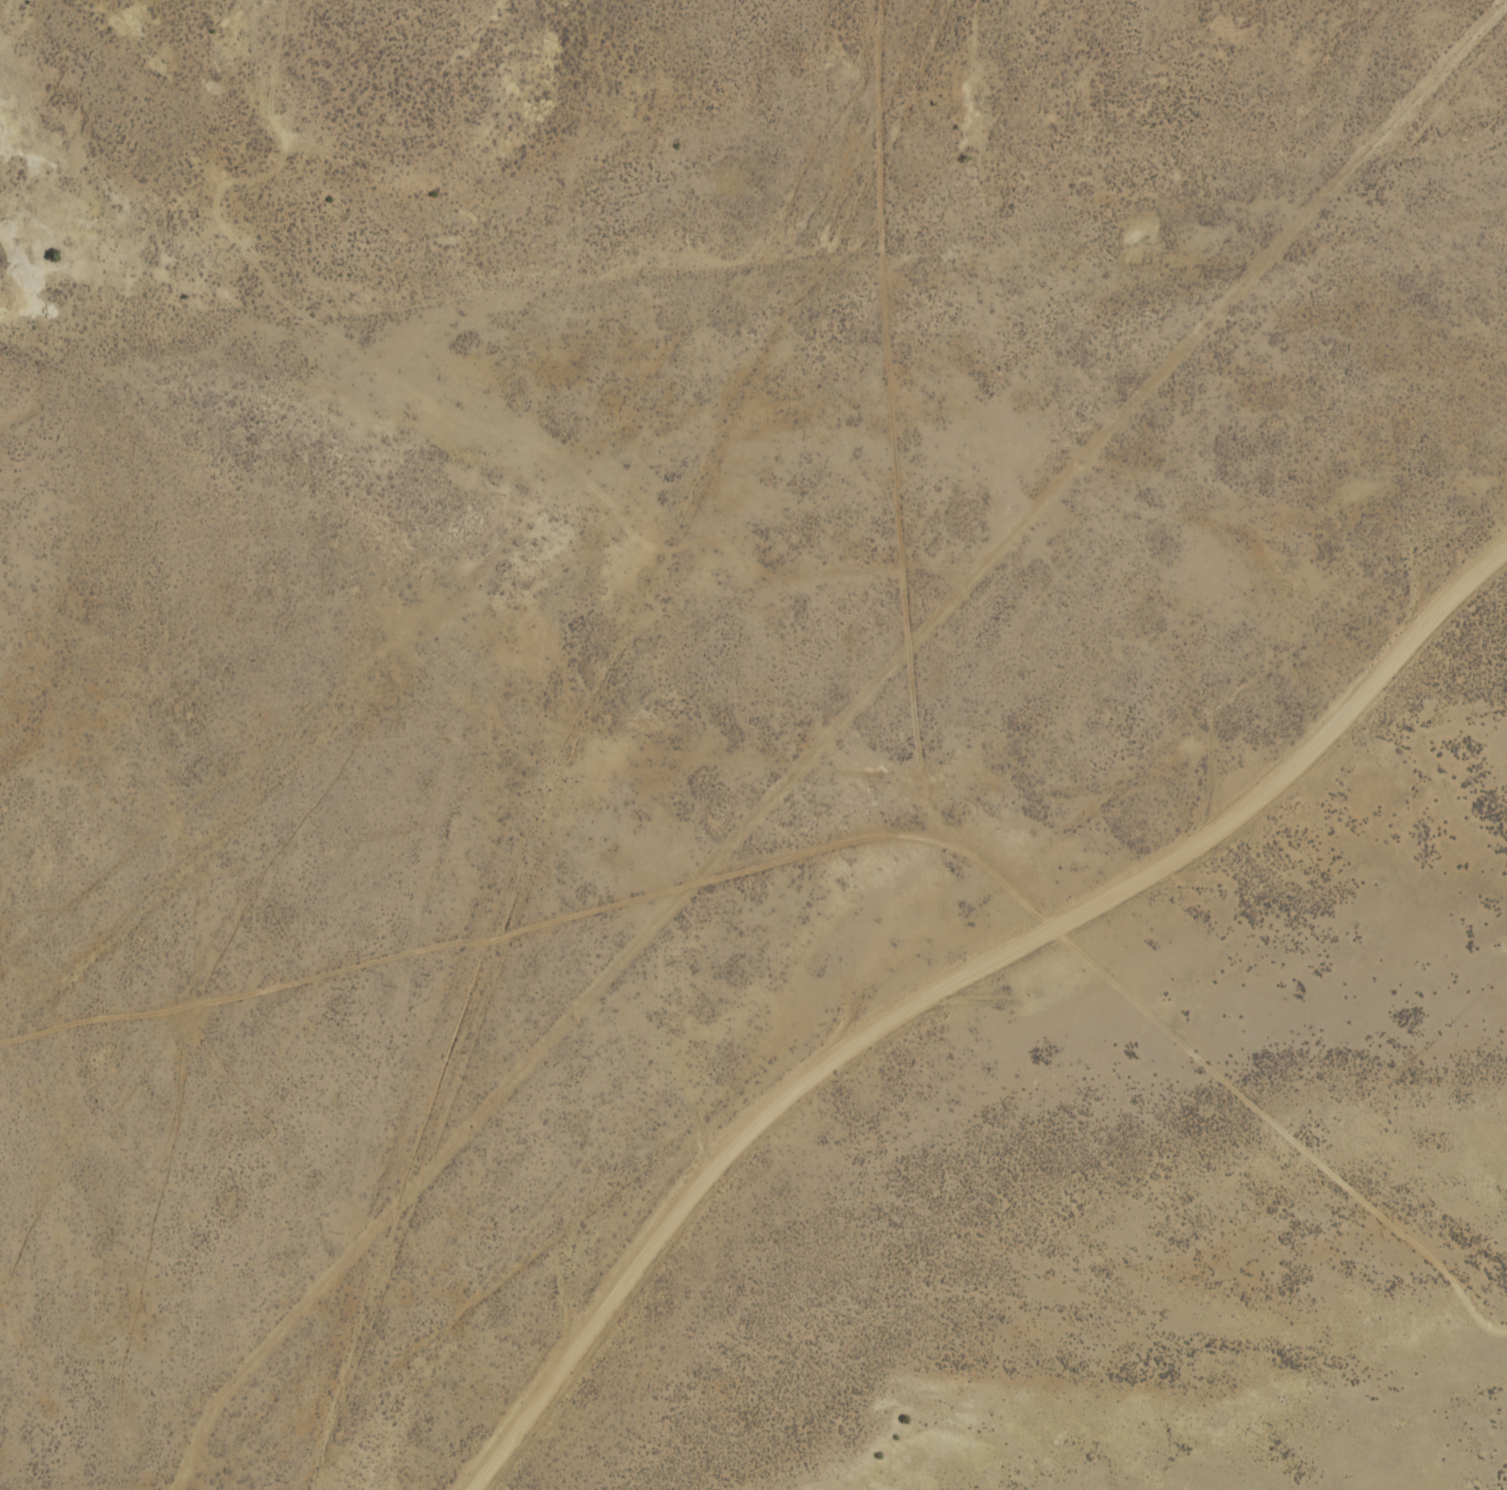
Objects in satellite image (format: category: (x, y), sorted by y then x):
road: (999, 1015)

